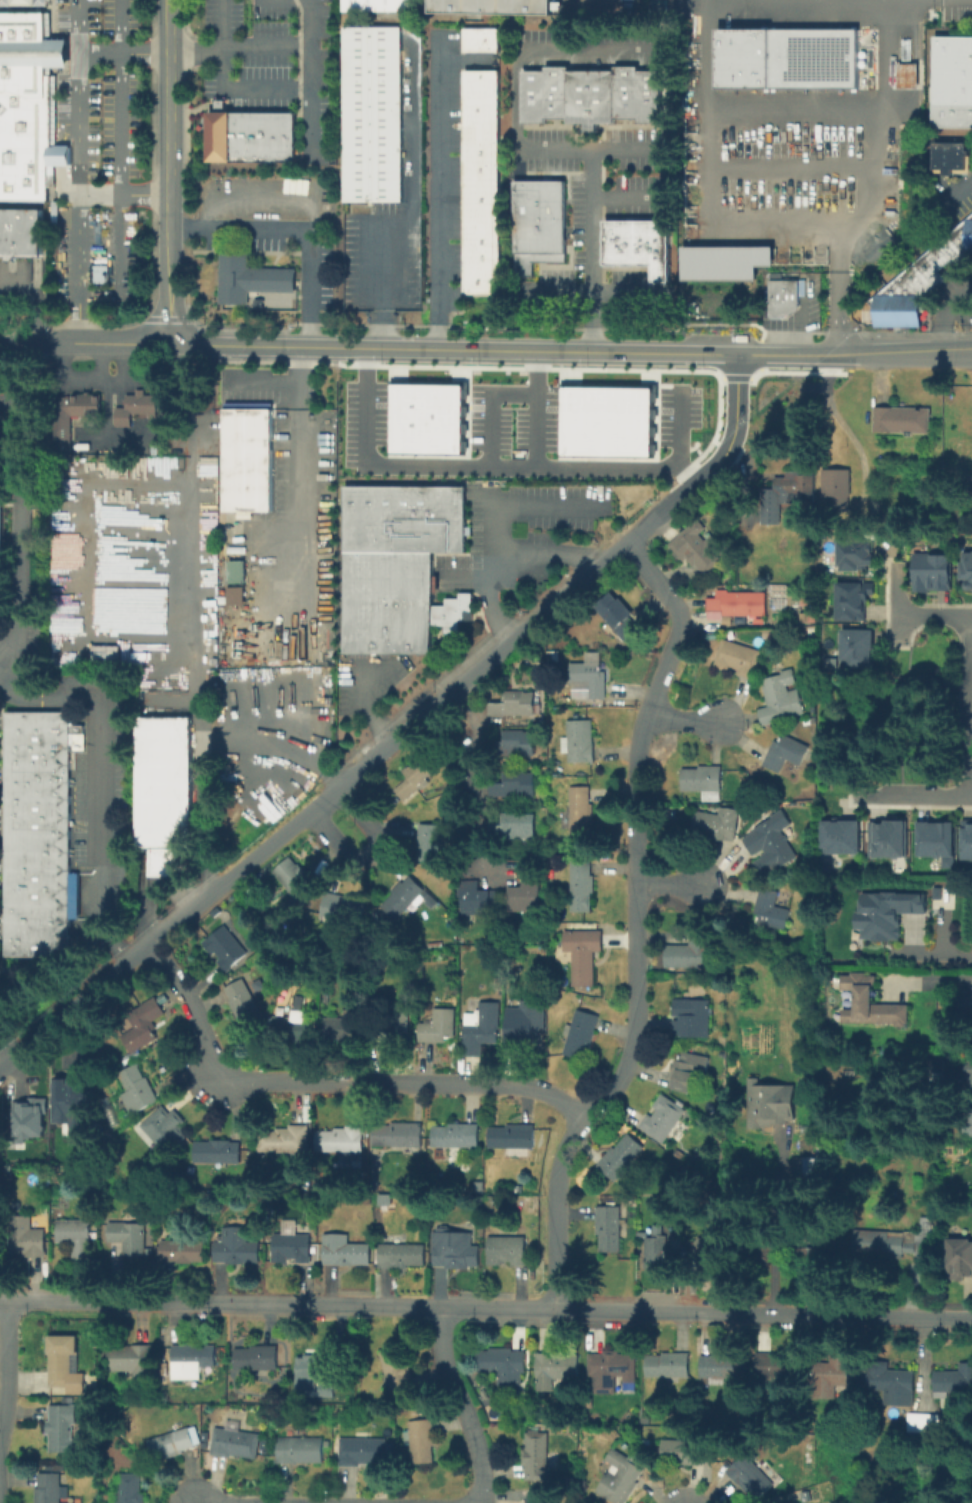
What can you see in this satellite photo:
road: (275, 0)
building: (21, 2)
road: (712, 3)
road: (843, 4)
building: (379, 5)
building: (490, 6)
road: (169, 26)
building: (480, 40)
road: (312, 42)
road: (240, 46)
road: (123, 53)
building: (952, 58)
road: (884, 59)
building: (789, 60)
road: (463, 61)
building: (908, 69)
building: (480, 81)
road: (515, 85)
road: (223, 87)
building: (590, 95)
building: (26, 104)
building: (480, 104)
building: (951, 104)
building: (371, 114)
road: (311, 123)
building: (480, 126)
building: (250, 135)
parking lot: (96, 147)
building: (480, 148)
road: (708, 153)
building: (951, 158)
road: (789, 166)
road: (120, 169)
road: (77, 171)
building: (480, 171)
road: (960, 187)
road: (256, 192)
building: (480, 192)
road: (439, 193)
road: (123, 194)
road: (626, 196)
road: (170, 199)
road: (412, 199)
building: (480, 215)
building: (537, 223)
road: (300, 225)
building: (966, 230)
building: (20, 232)
building: (480, 238)
building: (959, 243)
building: (637, 245)
building: (950, 251)
building: (936, 256)
building: (479, 260)
building: (729, 262)
building: (927, 271)
building: (248, 278)
building: (479, 282)
building: (914, 282)
road: (589, 293)
road: (34, 298)
building: (785, 299)
building: (903, 302)
building: (882, 310)
road: (944, 310)
road: (958, 310)
road: (800, 324)
road: (25, 341)
road: (110, 344)
road: (454, 349)
road: (910, 351)
road: (794, 353)
road: (99, 361)
road: (122, 362)
road: (22, 376)
road: (91, 378)
road: (277, 384)
building: (135, 407)
road: (492, 408)
road: (109, 410)
building: (73, 418)
building: (427, 419)
building: (899, 419)
building: (608, 422)
road: (682, 427)
road: (162, 431)
road: (735, 431)
building: (965, 448)
building: (247, 460)
building: (0, 463)
road: (448, 465)
road: (618, 469)
road: (286, 471)
building: (834, 487)
building: (786, 495)
building: (873, 506)
road: (18, 517)
building: (403, 519)
road: (489, 531)
building: (698, 550)
building: (855, 553)
building: (0, 556)
road: (544, 556)
building: (966, 569)
building: (933, 570)
building: (235, 571)
building: (234, 595)
building: (851, 599)
building: (393, 603)
building: (743, 603)
road: (898, 604)
road: (934, 615)
building: (619, 618)
building: (856, 648)
building: (104, 653)
building: (737, 658)
road: (18, 659)
building: (589, 679)
building: (779, 698)
road: (362, 701)
building: (516, 706)
road: (968, 706)
road: (681, 719)
building: (520, 743)
building: (580, 746)
building: (785, 755)
road: (469, 769)
building: (415, 778)
road: (103, 782)
building: (704, 782)
road: (345, 783)
building: (516, 786)
building: (166, 792)
road: (909, 795)
road: (970, 795)
building: (580, 813)
building: (719, 824)
building: (520, 826)
building: (494, 830)
building: (42, 835)
building: (841, 837)
building: (886, 838)
building: (966, 839)
building: (936, 841)
building: (772, 843)
building: (430, 844)
road: (369, 851)
building: (292, 877)
road: (198, 880)
road: (674, 885)
building: (583, 886)
building: (938, 894)
building: (528, 897)
building: (408, 899)
building: (475, 899)
building: (334, 910)
building: (771, 912)
building: (887, 915)
road: (147, 919)
road: (636, 923)
road: (945, 932)
road: (913, 937)
building: (228, 949)
building: (692, 951)
building: (583, 955)
road: (932, 956)
road: (929, 978)
building: (872, 1004)
building: (245, 1005)
building: (963, 1005)
building: (693, 1019)
building: (393, 1024)
building: (344, 1026)
building: (145, 1027)
building: (437, 1028)
building: (482, 1028)
building: (528, 1029)
building: (294, 1030)
building: (583, 1037)
building: (971, 1037)
road: (5, 1053)
building: (967, 1070)
building: (690, 1073)
road: (325, 1085)
building: (138, 1091)
building: (769, 1105)
building: (69, 1106)
building: (28, 1117)
building: (664, 1120)
building: (965, 1124)
building: (165, 1133)
building: (399, 1137)
building: (458, 1138)
building: (341, 1140)
building: (513, 1141)
building: (284, 1142)
building: (219, 1154)
building: (623, 1159)
building: (605, 1227)
road: (776, 1234)
building: (27, 1237)
building: (76, 1237)
building: (130, 1240)
building: (903, 1241)
building: (238, 1249)
building: (455, 1249)
building: (507, 1250)
building: (184, 1251)
building: (291, 1251)
building: (346, 1253)
building: (656, 1254)
building: (709, 1255)
building: (402, 1256)
building: (773, 1258)
building: (958, 1260)
road: (486, 1307)
building: (258, 1359)
building: (131, 1361)
building: (194, 1362)
building: (64, 1363)
building: (670, 1365)
building: (506, 1367)
building: (722, 1367)
building: (775, 1367)
road: (5, 1368)
building: (397, 1370)
building: (613, 1371)
building: (558, 1372)
building: (308, 1376)
building: (833, 1377)
building: (952, 1381)
building: (892, 1384)
building: (329, 1390)
road: (459, 1405)
building: (920, 1422)
building: (62, 1431)
building: (421, 1443)
building: (176, 1445)
building: (239, 1445)
building: (685, 1451)
building: (303, 1452)
building: (362, 1452)
building: (537, 1457)
building: (620, 1478)
building: (749, 1478)
building: (50, 1490)
building: (132, 1493)
building: (542, 1501)

